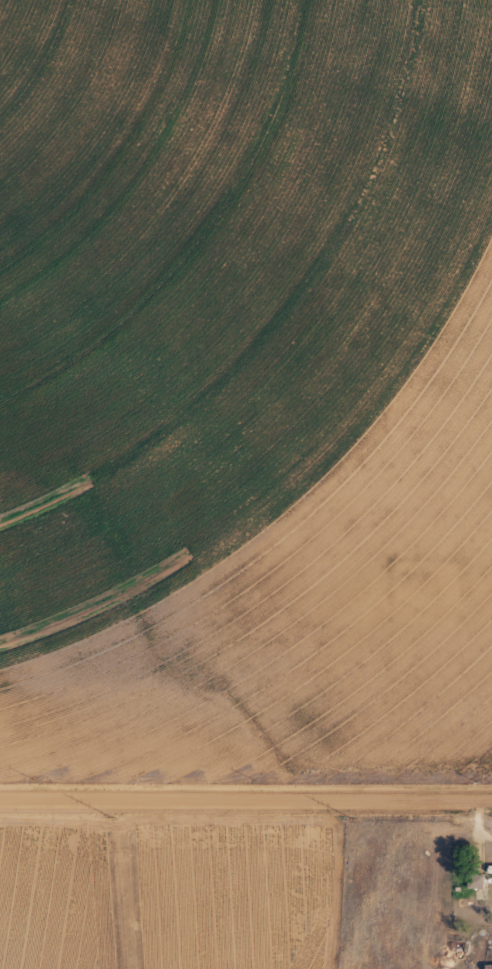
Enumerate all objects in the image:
road: (246, 805)

